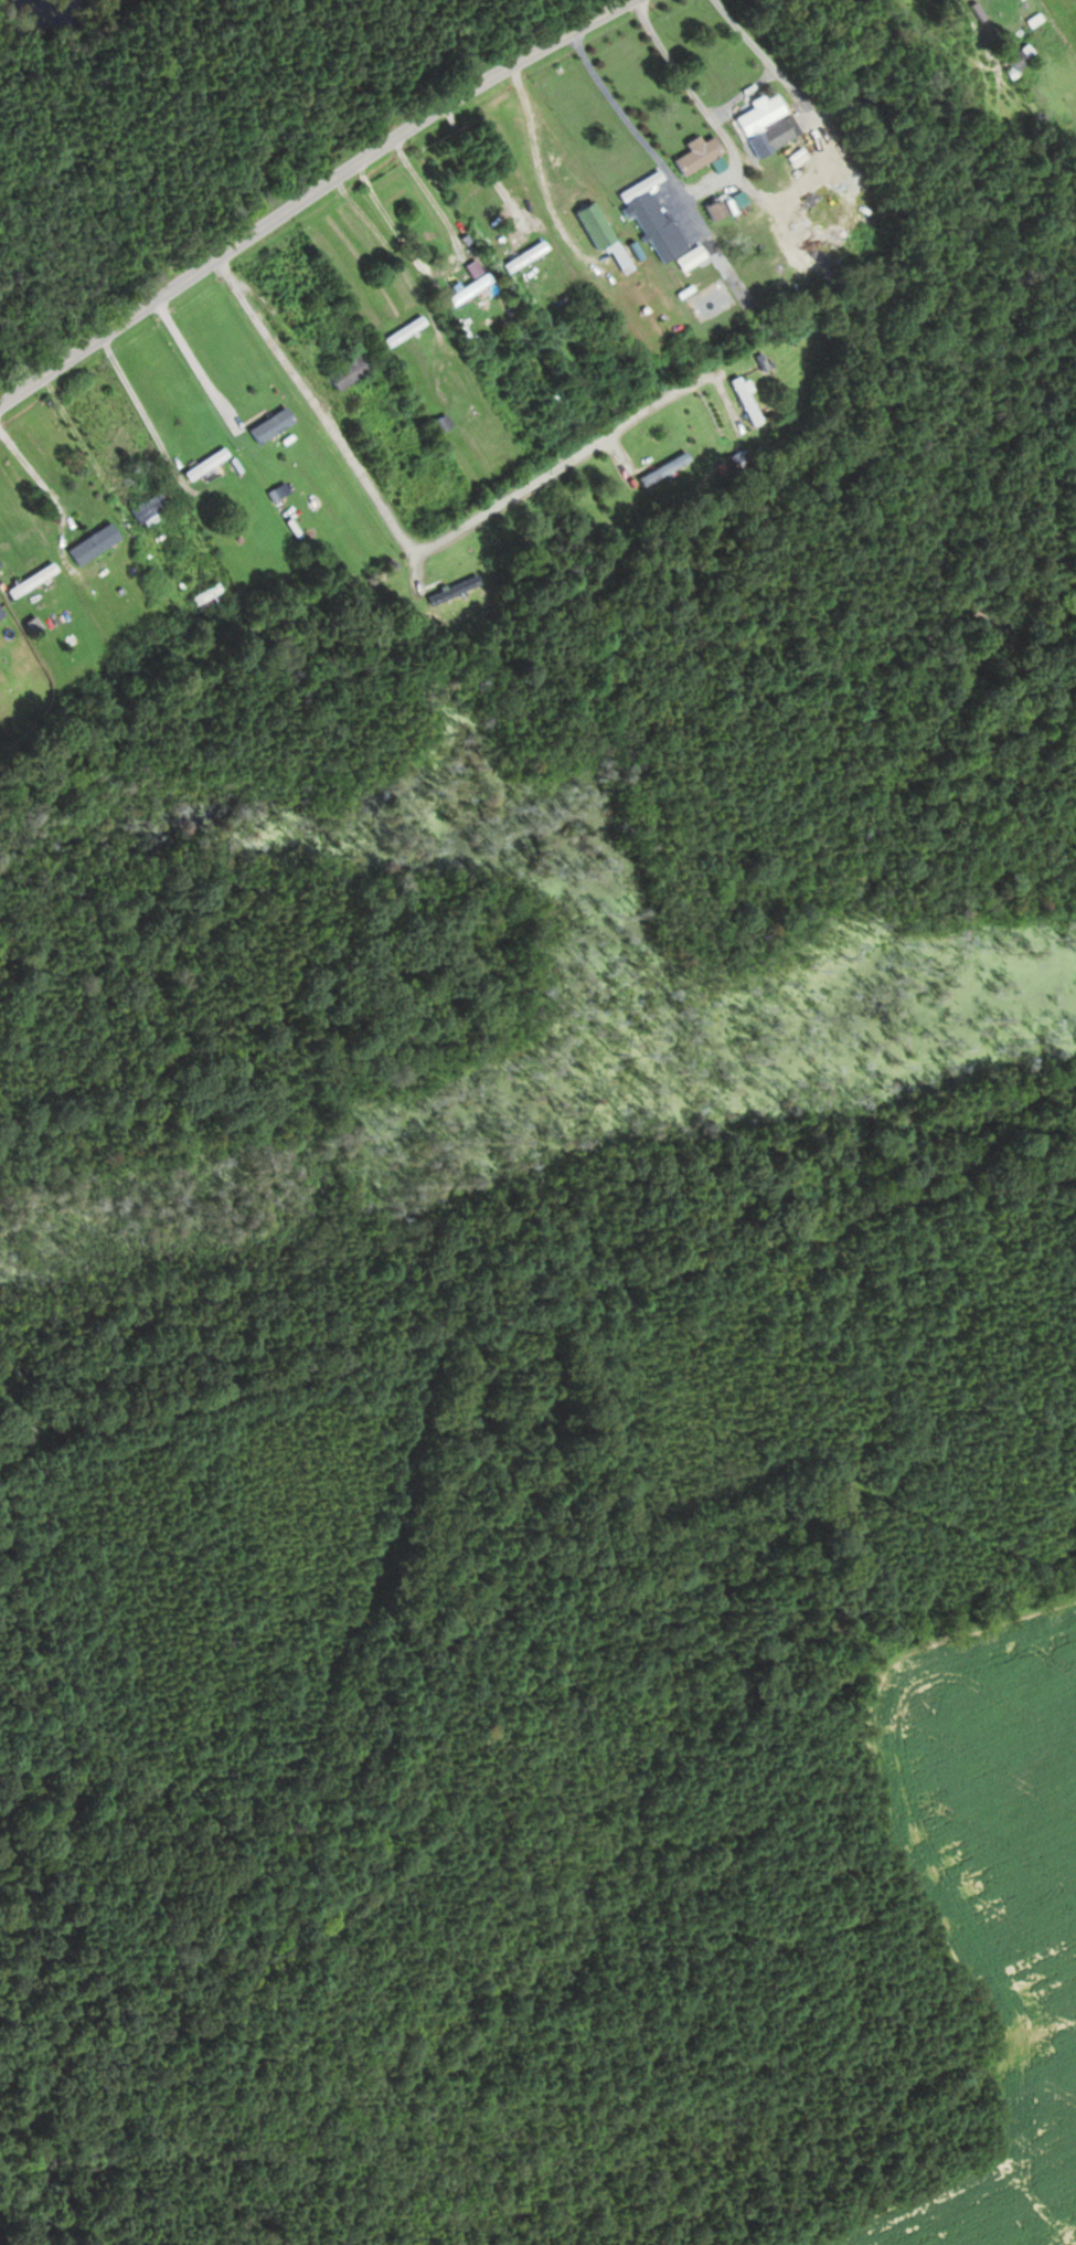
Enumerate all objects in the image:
building: (1015, 61)
building: (766, 124)
building: (696, 152)
road: (311, 195)
road: (896, 201)
building: (714, 209)
building: (649, 216)
building: (594, 225)
building: (524, 256)
building: (469, 288)
building: (402, 331)
building: (350, 369)
building: (562, 405)
building: (441, 422)
building: (270, 423)
building: (204, 463)
building: (649, 477)
road: (57, 500)
building: (150, 505)
building: (93, 542)
building: (454, 589)
building: (209, 599)
building: (1, 612)

